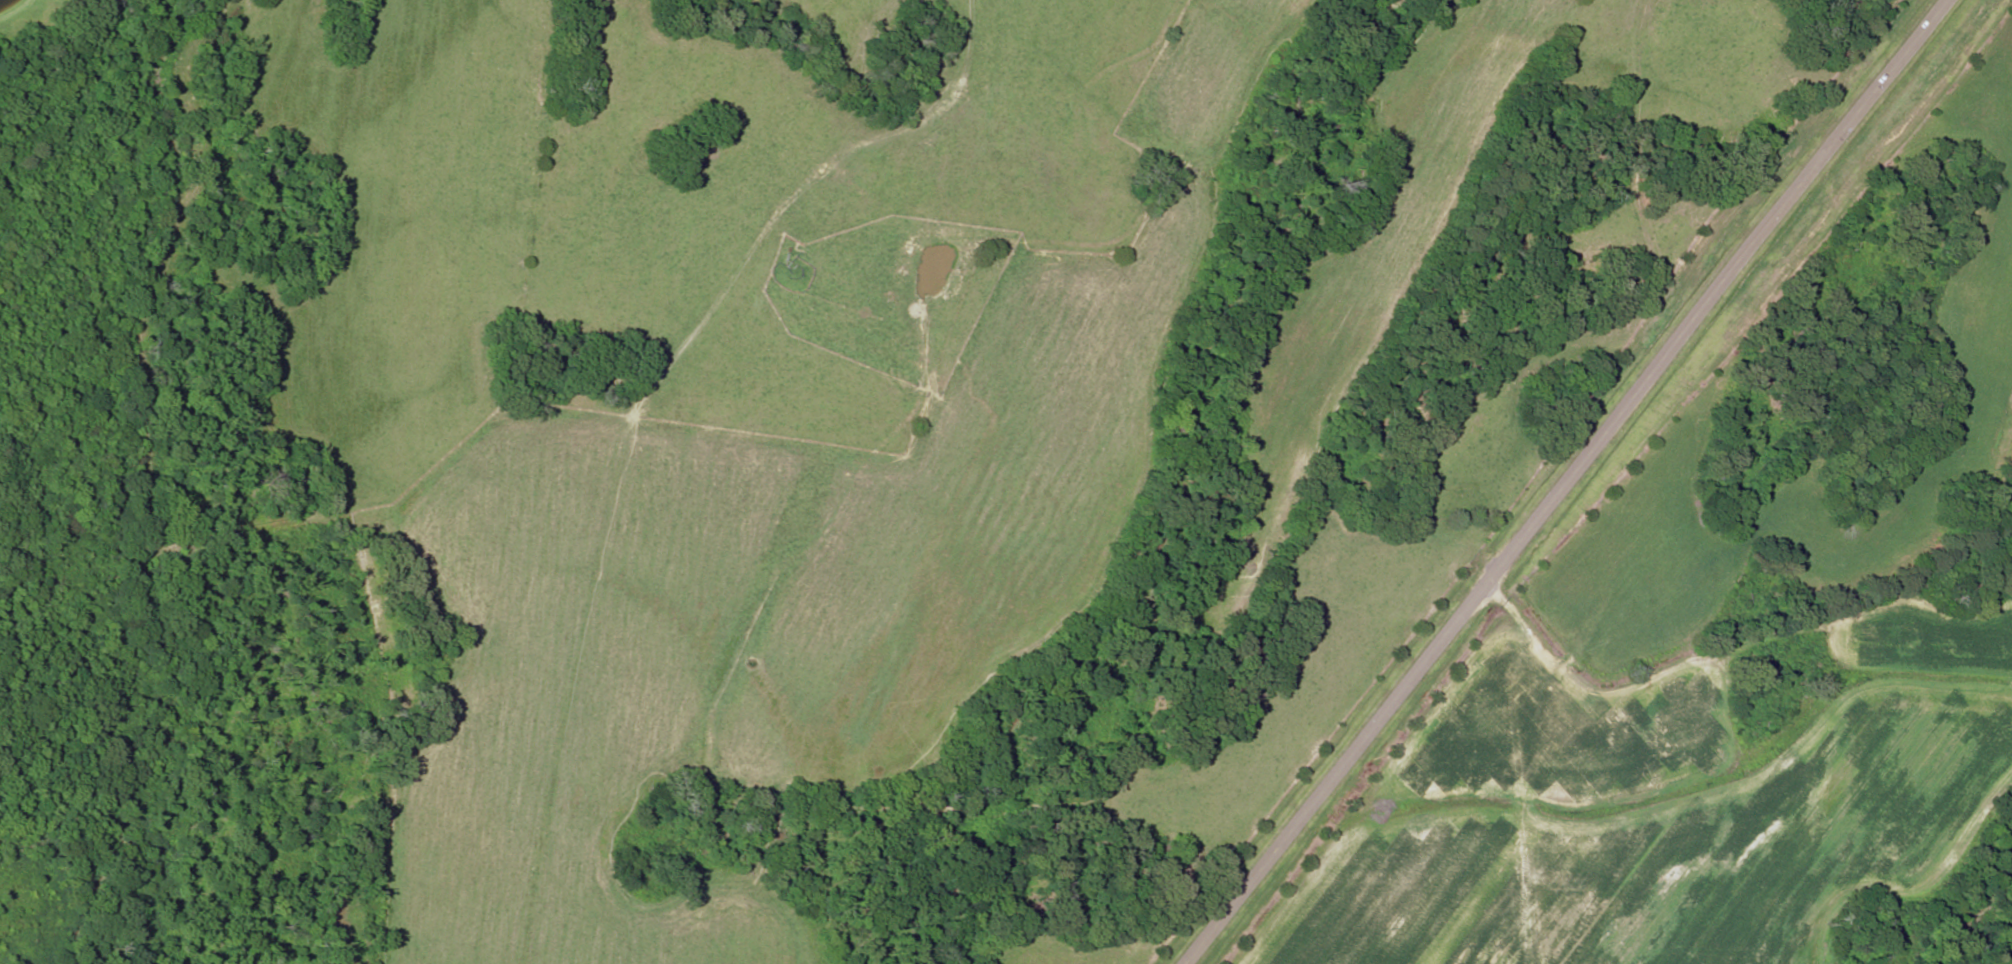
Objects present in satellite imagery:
road: (1561, 482)

